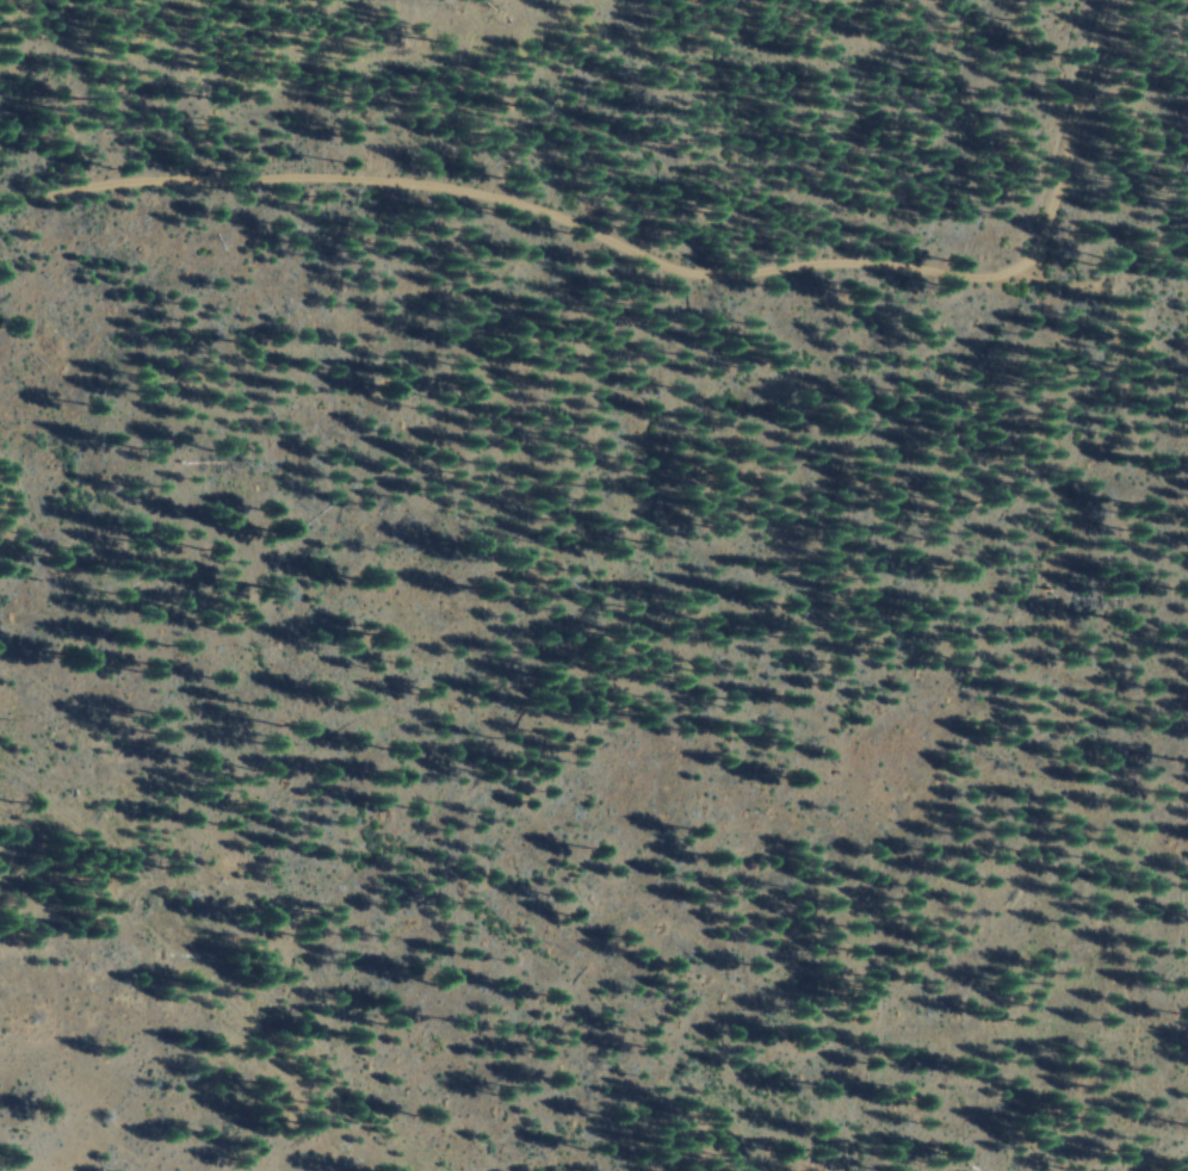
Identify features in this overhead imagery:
road: (332, 367)

